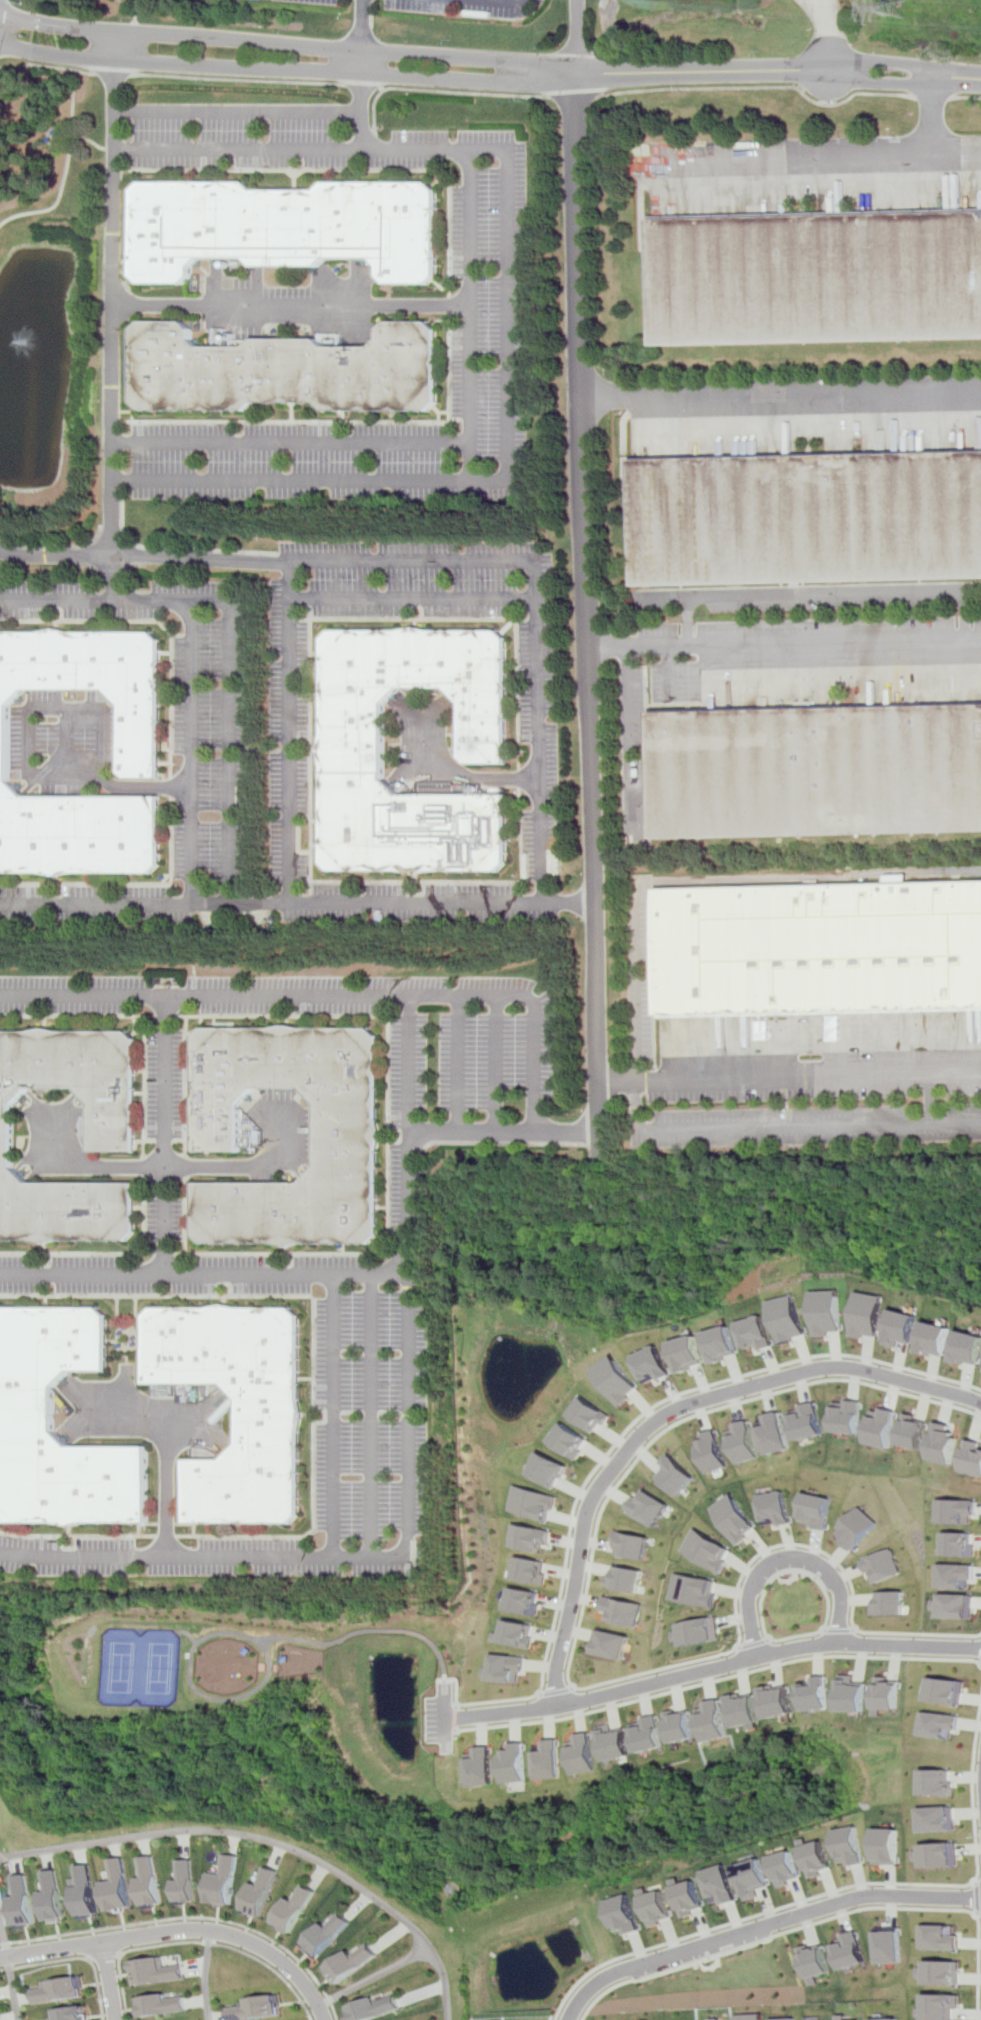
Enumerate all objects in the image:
parking lot: (539, 1)
parking lot: (320, 2)
parking lot: (465, 7)
power tower: (907, 9)
road: (130, 10)
traffic signals: (6, 17)
road: (831, 33)
road: (263, 42)
road: (362, 56)
road: (262, 68)
road: (753, 70)
road: (88, 73)
road: (115, 76)
road: (239, 80)
road: (361, 86)
road: (762, 89)
road: (463, 92)
road: (932, 97)
road: (572, 98)
road: (965, 99)
road: (374, 110)
road: (258, 112)
road: (936, 114)
parking lot: (238, 136)
road: (90, 140)
road: (374, 144)
road: (71, 146)
road: (807, 156)
building: (284, 229)
building: (817, 281)
parking lot: (482, 296)
road: (292, 306)
road: (114, 307)
road: (468, 315)
road: (508, 319)
building: (284, 373)
road: (781, 393)
road: (312, 441)
parking lot: (296, 461)
building: (810, 522)
road: (114, 543)
road: (56, 547)
road: (179, 549)
road: (137, 553)
road: (94, 554)
road: (143, 556)
road: (98, 571)
road: (112, 571)
road: (126, 577)
road: (113, 578)
road: (585, 579)
road: (824, 594)
road: (663, 597)
road: (411, 598)
road: (535, 608)
road: (232, 636)
road: (703, 643)
road: (607, 645)
road: (671, 671)
parking lot: (678, 681)
parking lot: (185, 704)
road: (72, 708)
parking lot: (290, 725)
building: (353, 732)
road: (288, 734)
building: (142, 738)
parking lot: (65, 742)
road: (66, 744)
parking lot: (539, 751)
road: (189, 753)
parking lot: (634, 757)
building: (819, 772)
road: (443, 780)
parking lot: (420, 902)
road: (297, 904)
parking lot: (94, 905)
building: (821, 949)
road: (191, 951)
parking lot: (639, 970)
parking lot: (69, 994)
road: (533, 1004)
parking lot: (419, 1049)
road: (458, 1064)
road: (497, 1065)
road: (789, 1078)
parking lot: (811, 1081)
parking lot: (165, 1084)
road: (930, 1098)
building: (348, 1127)
road: (684, 1128)
building: (113, 1129)
road: (503, 1132)
road: (163, 1135)
road: (222, 1165)
parking lot: (103, 1263)
road: (203, 1274)
road: (408, 1279)
building: (830, 1312)
building: (870, 1315)
building: (791, 1318)
building: (905, 1328)
building: (760, 1332)
building: (939, 1339)
building: (724, 1344)
building: (970, 1347)
building: (690, 1353)
building: (655, 1364)
building: (617, 1380)
building: (27, 1411)
building: (591, 1414)
parking lot: (376, 1415)
road: (666, 1415)
road: (148, 1417)
road: (333, 1417)
road: (371, 1417)
building: (847, 1417)
building: (807, 1421)
building: (269, 1422)
road: (629, 1427)
building: (882, 1427)
building: (913, 1431)
building: (774, 1434)
building: (570, 1441)
building: (743, 1442)
building: (944, 1444)
building: (710, 1452)
building: (972, 1458)
building: (548, 1469)
building: (670, 1475)
road: (166, 1487)
building: (531, 1502)
building: (642, 1507)
building: (773, 1507)
building: (814, 1510)
building: (956, 1511)
building: (731, 1518)
building: (853, 1528)
building: (525, 1537)
building: (625, 1544)
building: (958, 1545)
building: (701, 1551)
road: (782, 1559)
building: (876, 1565)
building: (524, 1569)
building: (954, 1576)
building: (619, 1579)
road: (810, 1580)
building: (687, 1590)
building: (517, 1601)
building: (883, 1604)
building: (953, 1606)
building: (616, 1611)
road: (837, 1629)
building: (692, 1632)
building: (510, 1634)
road: (748, 1643)
building: (608, 1644)
road: (565, 1660)
road: (261, 1662)
park: (122, 1667)
park: (159, 1668)
building: (501, 1668)
road: (712, 1668)
road: (717, 1679)
road: (553, 1691)
building: (950, 1691)
building: (815, 1694)
building: (853, 1694)
building: (889, 1694)
building: (778, 1701)
building: (744, 1709)
road: (445, 1718)
road: (455, 1718)
building: (713, 1721)
building: (944, 1725)
building: (679, 1726)
building: (648, 1734)
building: (614, 1743)
building: (582, 1753)
building: (548, 1759)
building: (480, 1766)
building: (513, 1768)
building: (941, 1782)
road: (978, 1783)
building: (943, 1818)
road: (269, 1841)
building: (852, 1845)
building: (890, 1845)
building: (945, 1854)
building: (818, 1857)
building: (787, 1866)
building: (755, 1878)
building: (187, 1880)
building: (151, 1882)
building: (226, 1882)
building: (723, 1884)
building: (120, 1885)
building: (87, 1890)
building: (263, 1890)
building: (54, 1895)
building: (691, 1897)
building: (22, 1900)
building: (297, 1907)
building: (659, 1907)
road: (980, 1912)
building: (626, 1913)
road: (755, 1917)
road: (190, 1918)
road: (765, 1927)
road: (180, 1931)
building: (328, 1934)
road: (774, 1937)
building: (943, 1937)
road: (197, 1941)
building: (890, 1945)
building: (850, 1950)
road: (103, 1955)
road: (76, 1958)
building: (353, 1961)
building: (814, 1963)
road: (7, 1967)
building: (155, 1971)
building: (944, 1972)
road: (207, 1976)
road: (375, 1976)
road: (107, 1980)
building: (56, 1989)
building: (163, 2005)
building: (942, 2006)
building: (377, 2007)
building: (259, 2008)
road: (980, 2012)
building: (68, 2013)
building: (753, 2016)
building: (845, 2017)
building: (789, 2018)
building: (891, 2019)

